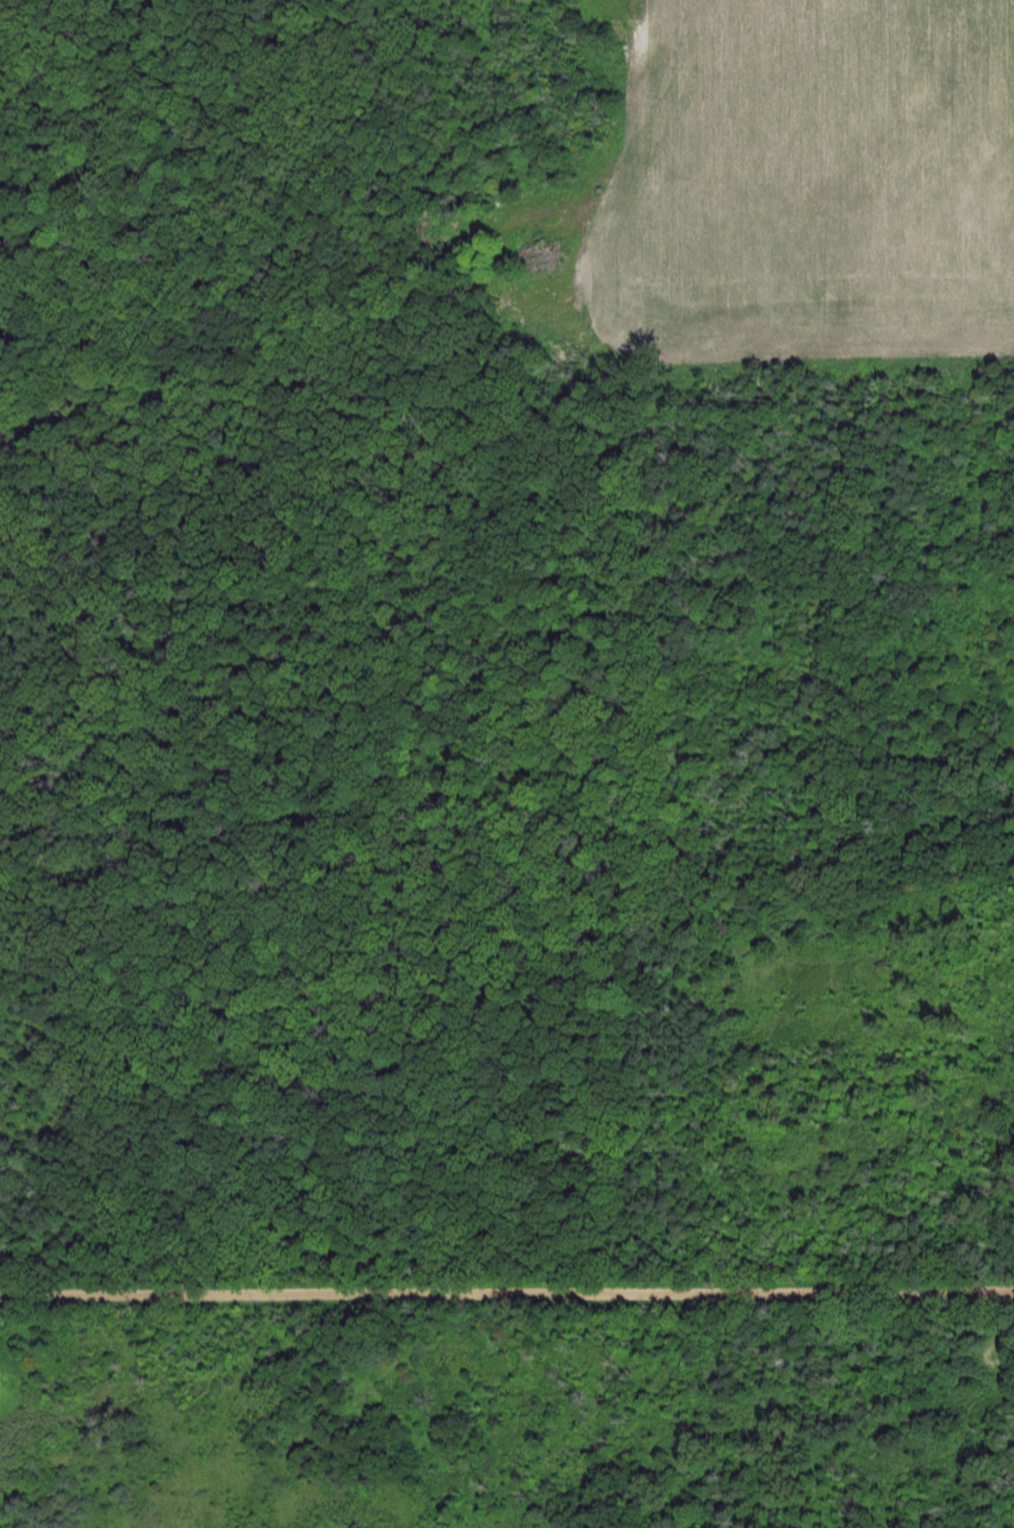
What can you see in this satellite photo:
road: (507, 1293)

